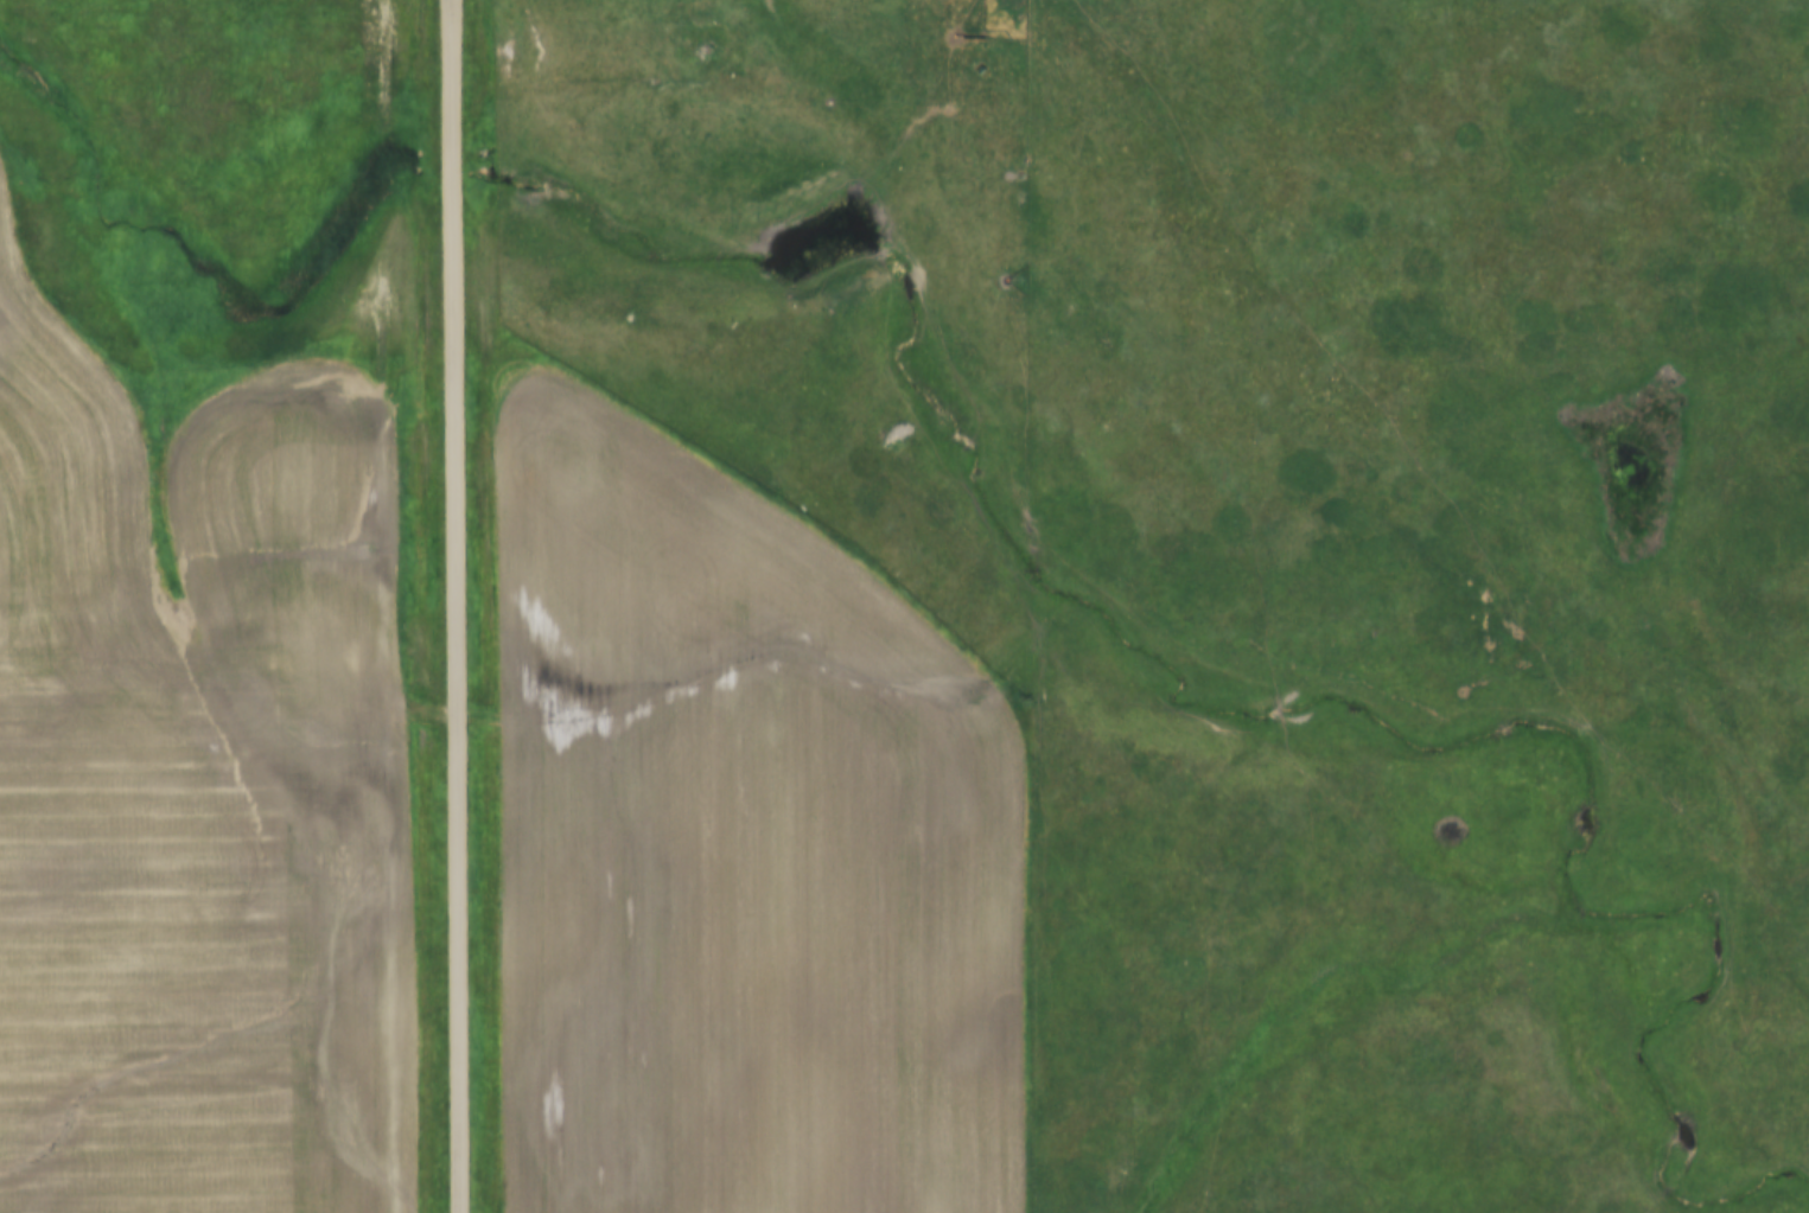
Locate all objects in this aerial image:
building: (698, 42)
road: (456, 606)

